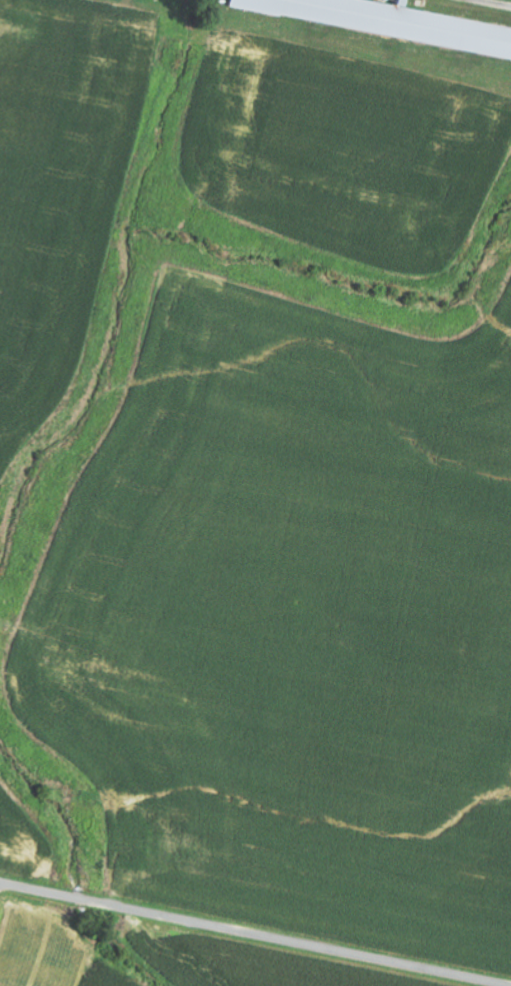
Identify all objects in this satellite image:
building: (388, 22)
road: (254, 935)

